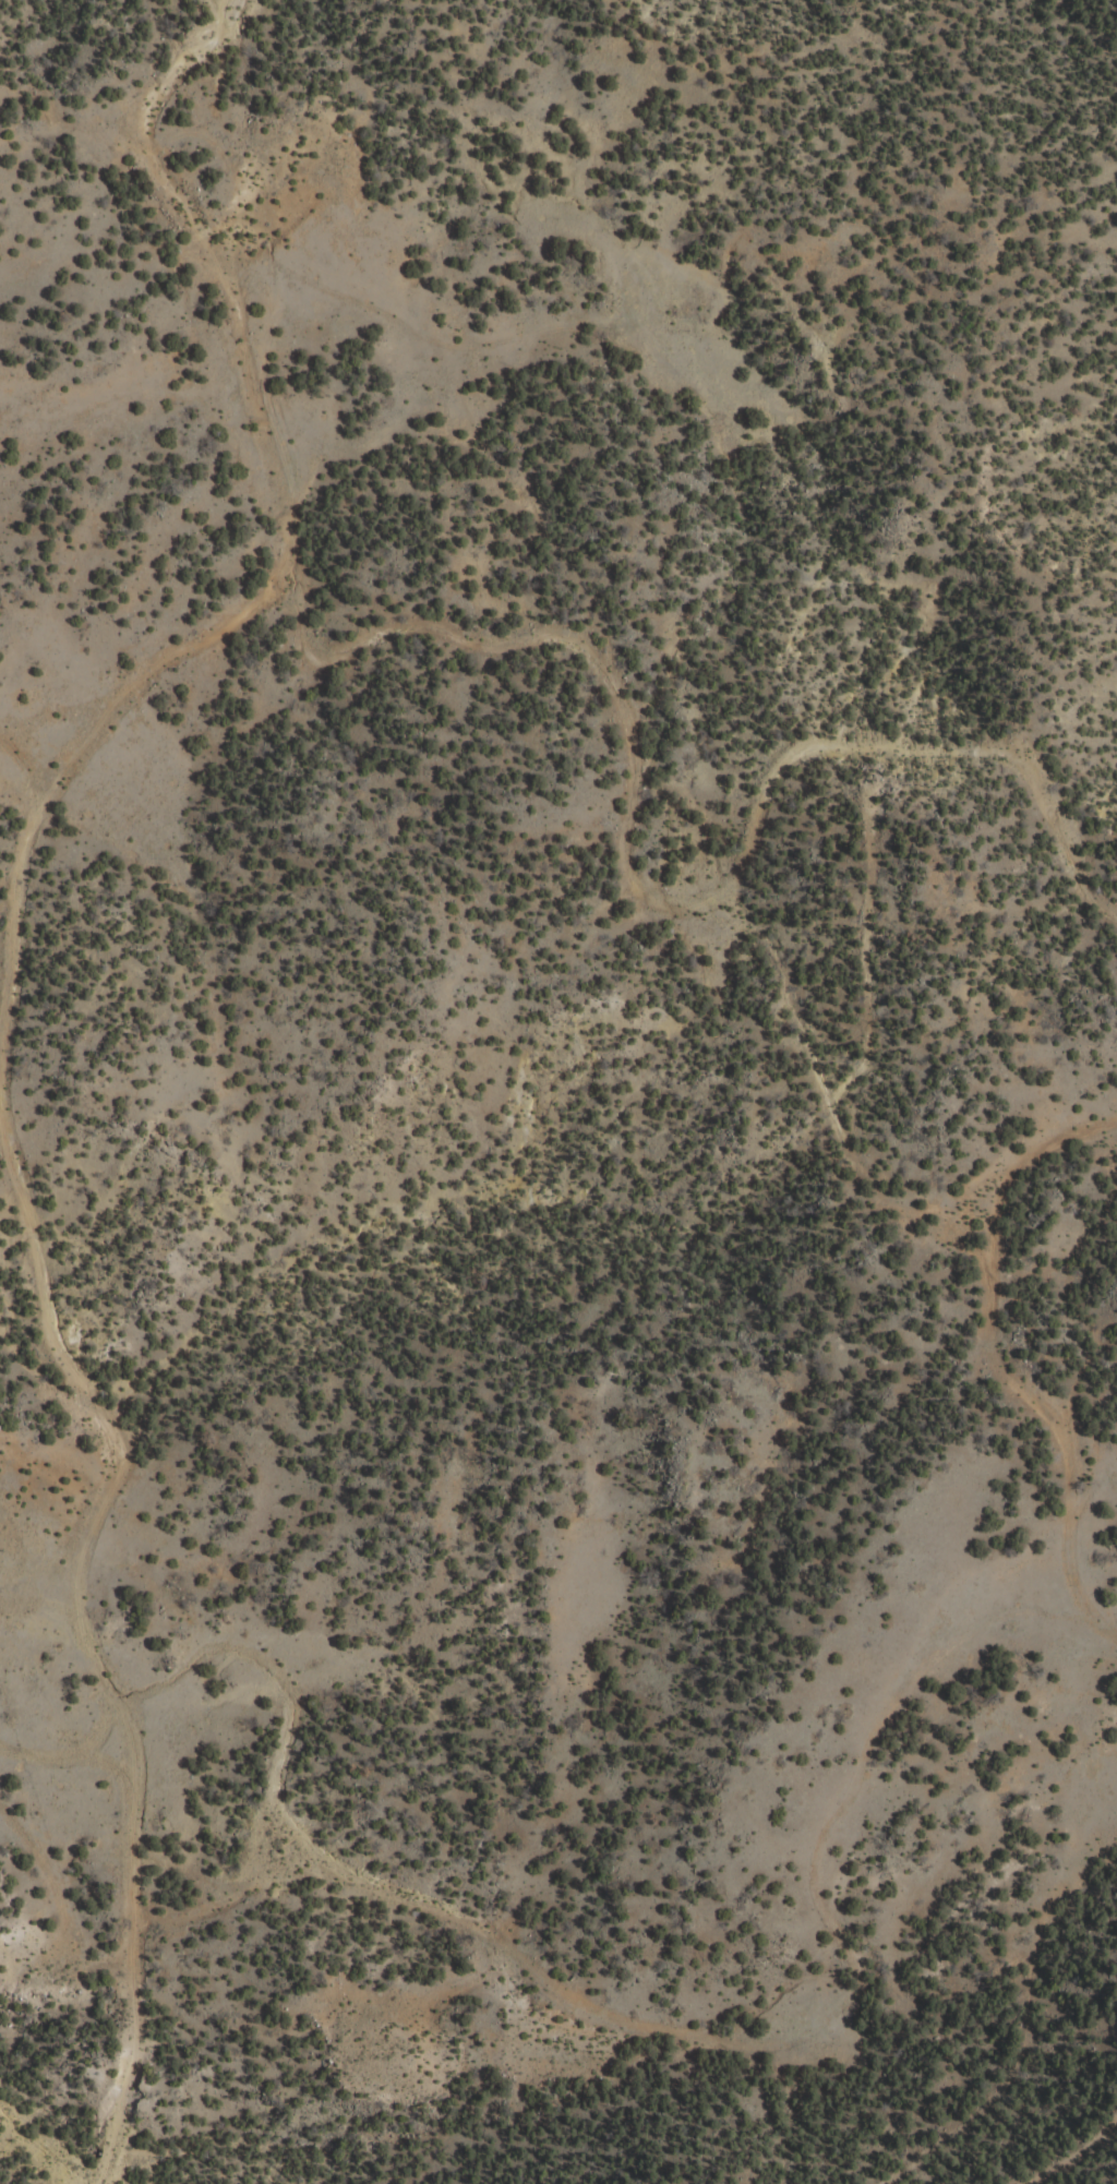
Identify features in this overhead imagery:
road: (674, 926)
road: (11, 1064)
road: (875, 1082)
road: (1100, 1659)
road: (56, 1747)

